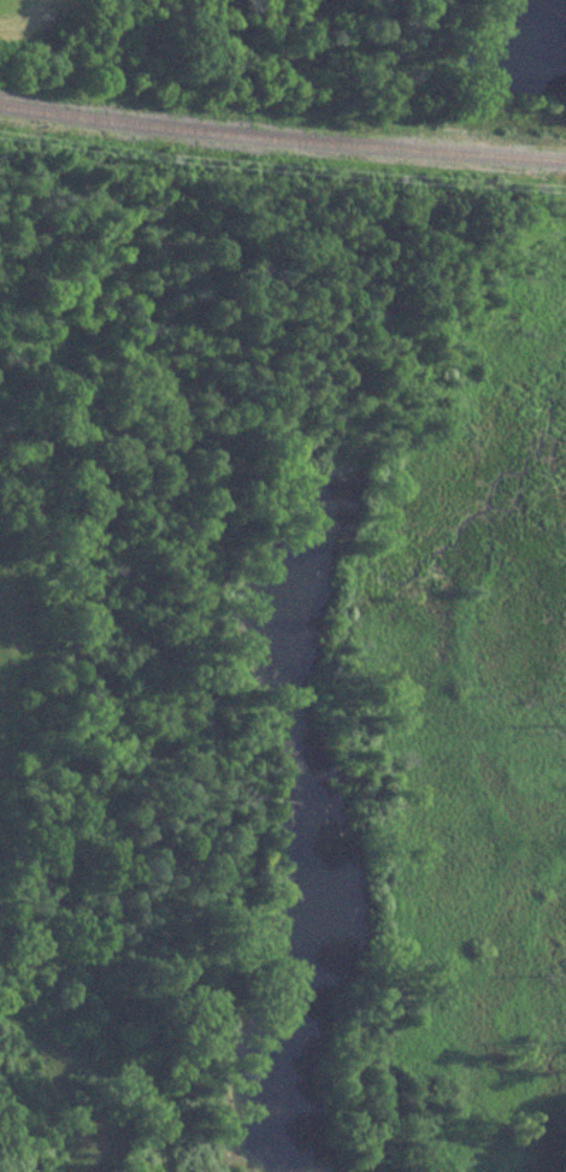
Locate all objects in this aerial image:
railway: (282, 136)
road: (105, 1070)

